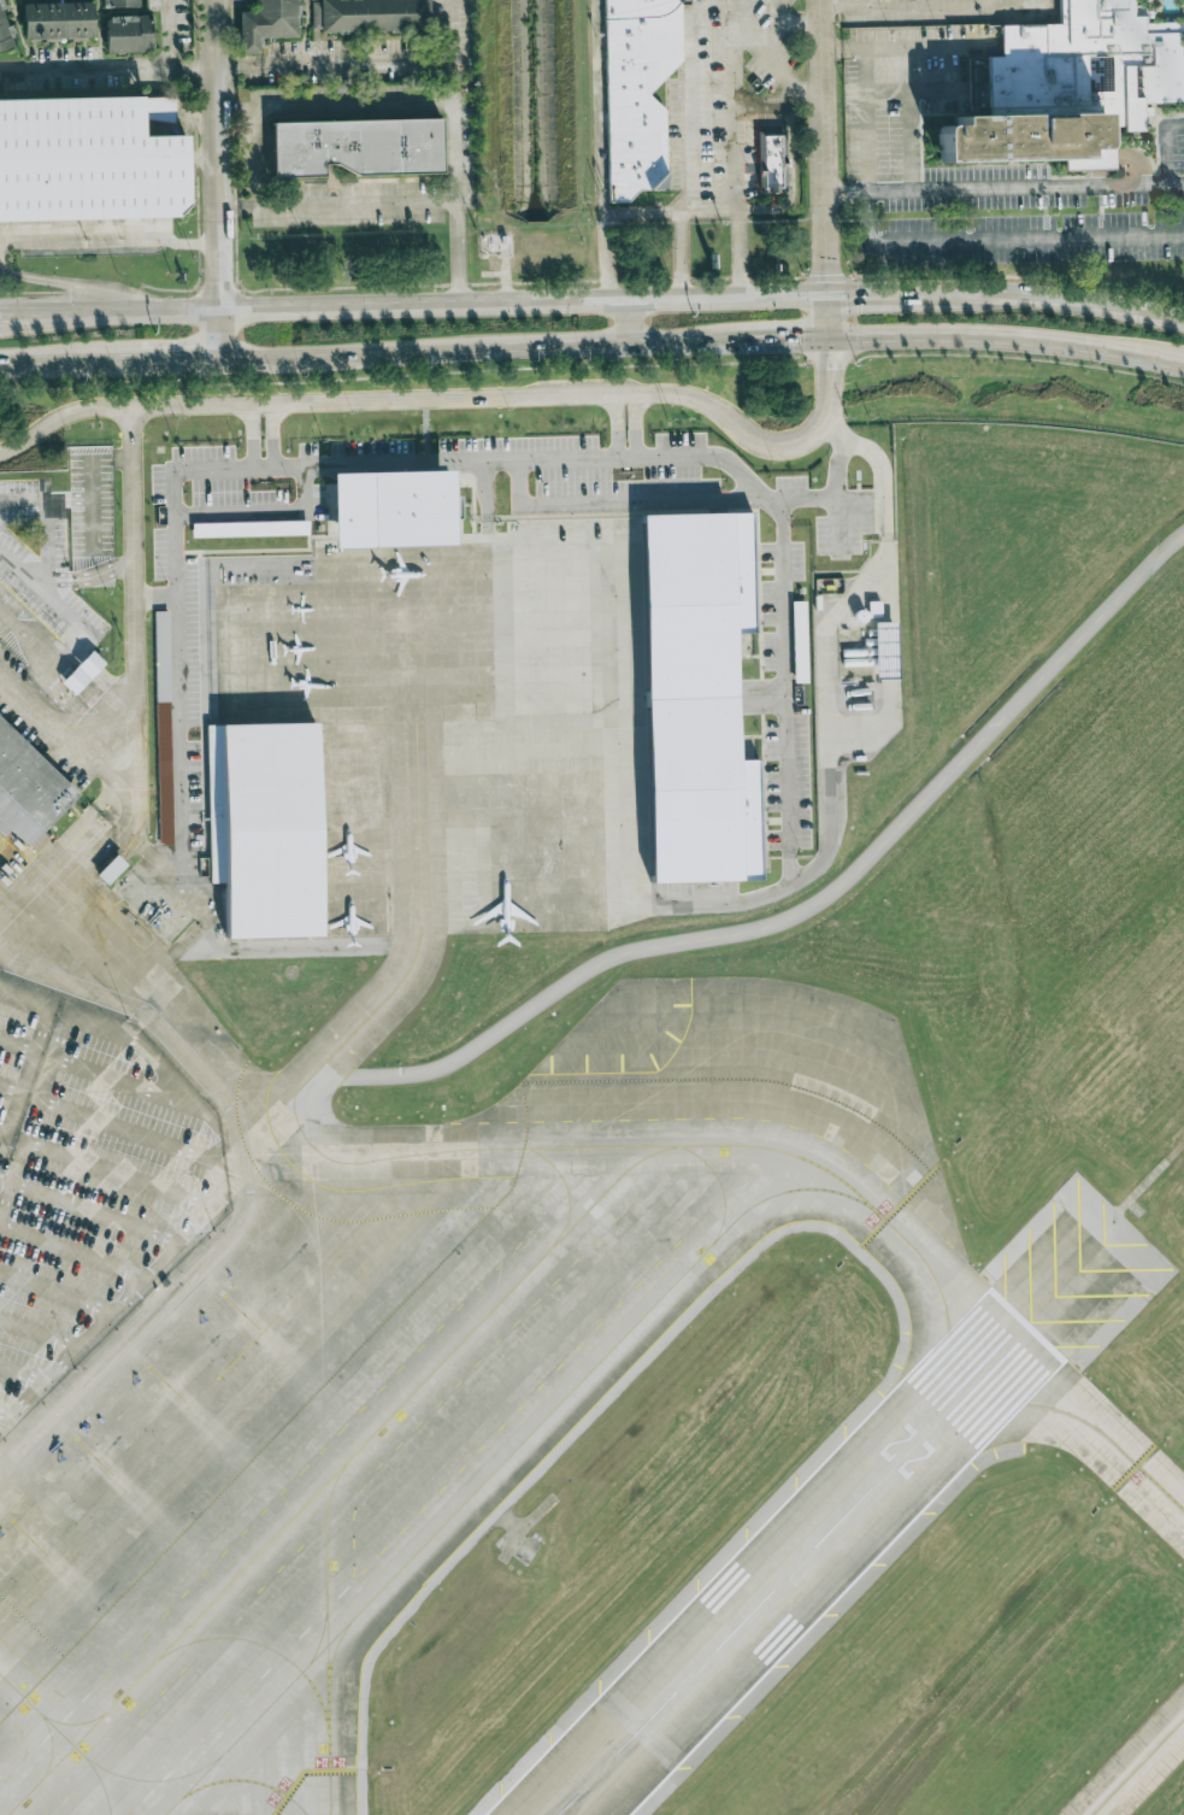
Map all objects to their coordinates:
building: (113, 4)
building: (1183, 7)
road: (701, 8)
building: (367, 16)
road: (718, 17)
building: (49, 22)
building: (260, 24)
road: (459, 31)
road: (166, 35)
building: (122, 36)
building: (2, 39)
road: (913, 47)
road: (341, 67)
road: (171, 70)
road: (196, 71)
road: (83, 76)
building: (1068, 87)
building: (634, 92)
road: (935, 92)
road: (866, 99)
road: (749, 106)
river: (536, 108)
road: (909, 121)
building: (351, 149)
road: (220, 153)
road: (251, 157)
parking lot: (86, 160)
building: (87, 161)
building: (768, 163)
road: (454, 169)
road: (826, 169)
road: (1005, 188)
road: (606, 219)
road: (868, 221)
road: (83, 230)
road: (736, 234)
road: (1030, 241)
road: (458, 257)
traffic signals: (830, 269)
road: (73, 283)
road: (872, 299)
traffic signals: (862, 300)
road: (1049, 301)
road: (528, 305)
road: (175, 310)
road: (63, 312)
road: (63, 321)
road: (628, 323)
road: (224, 336)
road: (774, 340)
traffic signals: (799, 340)
road: (470, 345)
road: (1009, 345)
road: (94, 364)
road: (182, 364)
road: (24, 365)
road: (594, 366)
traffic signals: (832, 370)
road: (463, 399)
road: (631, 428)
road: (612, 429)
road: (440, 463)
road: (258, 469)
road: (92, 488)
road: (838, 495)
road: (70, 500)
road: (615, 503)
building: (391, 509)
parking lot: (94, 515)
parking lot: (185, 518)
road: (47, 524)
building: (251, 527)
road: (838, 528)
road: (124, 566)
road: (81, 578)
parking lot: (45, 586)
road: (782, 594)
road: (152, 598)
road: (55, 604)
road: (169, 607)
road: (832, 616)
building: (567, 625)
building: (885, 650)
road: (59, 664)
airport apron: (463, 666)
building: (82, 672)
road: (134, 693)
building: (697, 698)
parking lot: (199, 710)
parking lot: (37, 719)
road: (94, 723)
building: (163, 727)
building: (28, 792)
road: (120, 811)
building: (266, 824)
road: (88, 846)
road: (819, 863)
building: (111, 869)
road: (791, 915)
airport taxiway: (422, 926)
road: (47, 1004)
airport taxiway: (794, 1034)
road: (140, 1042)
road: (24, 1077)
road: (128, 1083)
road: (10, 1089)
airport: (591, 1127)
road: (128, 1133)
airport taxiway: (529, 1147)
road: (120, 1177)
road: (6, 1179)
parking lot: (89, 1180)
airport taxiway: (569, 1194)
road: (246, 1196)
road: (96, 1212)
airport taxiway: (560, 1237)
road: (55, 1292)
road: (131, 1292)
road: (39, 1332)
airport apron: (357, 1333)
airport taxiway: (949, 1333)
road: (22, 1370)
airport taxiway: (1026, 1403)
airport taxiway: (488, 1479)
airport runway: (793, 1568)
airport taxiway: (328, 1639)
airport taxiway: (319, 1641)
airport taxiway: (272, 1649)
airport taxiway: (334, 1654)
airport taxiway: (70, 1721)
airport taxiway: (52, 1741)
airport taxiway: (101, 1767)
airport taxiway: (1137, 1767)
airport taxiway: (249, 1781)
airport taxiway: (102, 1782)

